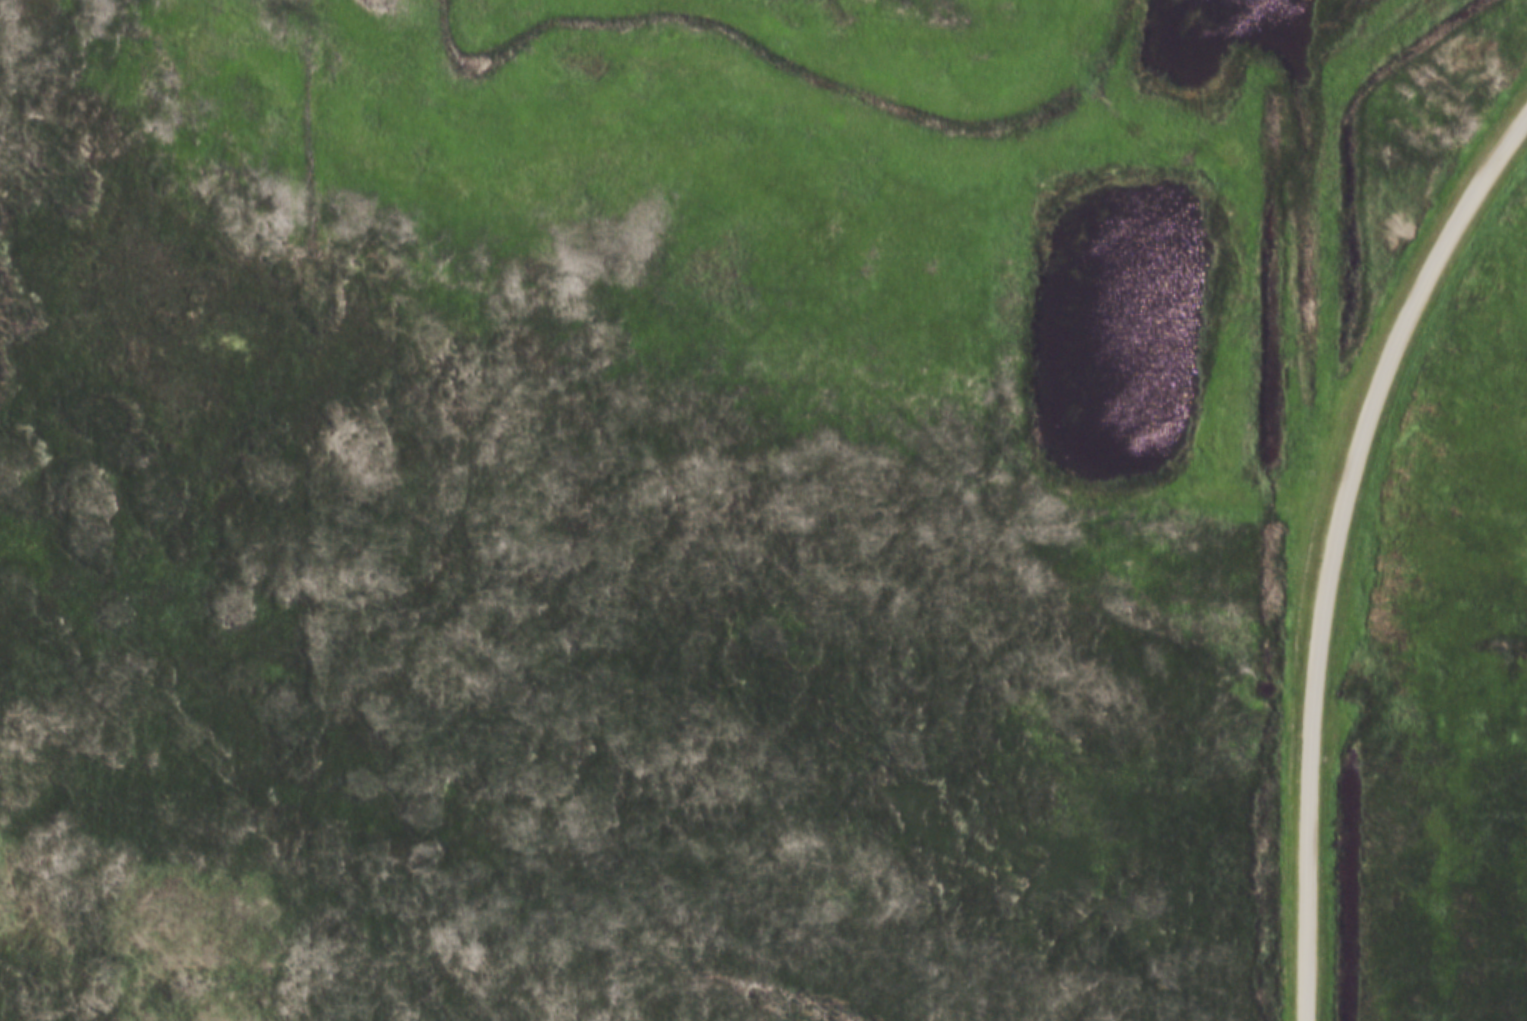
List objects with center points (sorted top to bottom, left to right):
road: (1334, 543)

